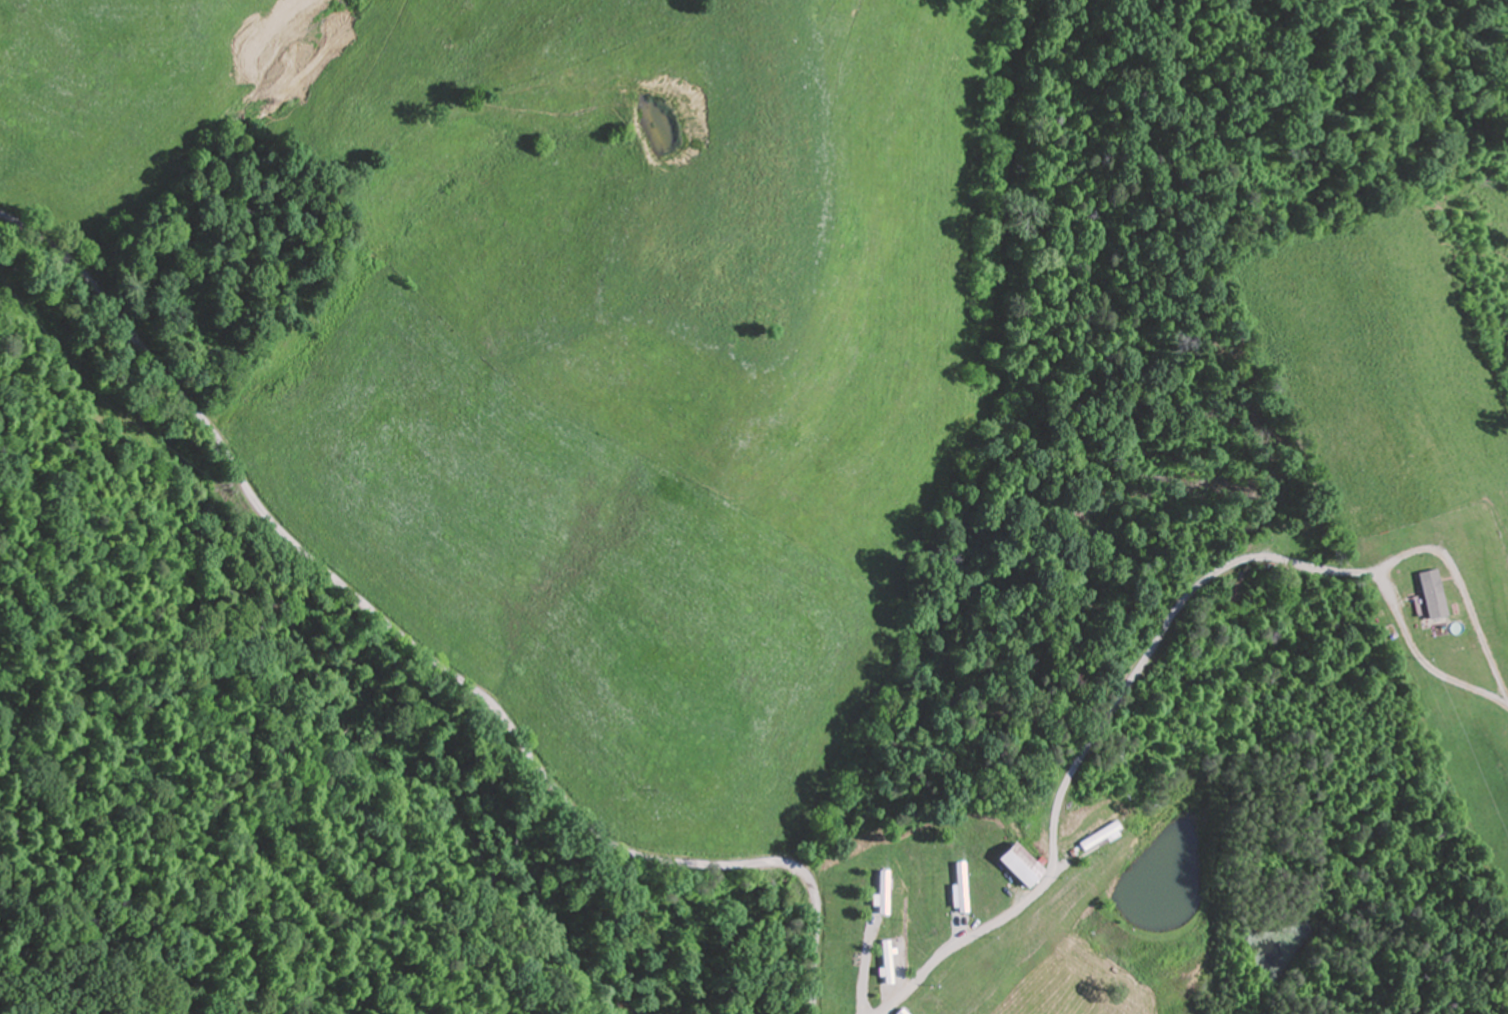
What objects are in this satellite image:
building: (1236, 587)
road: (425, 649)
road: (1097, 739)
building: (1019, 864)
building: (884, 892)

